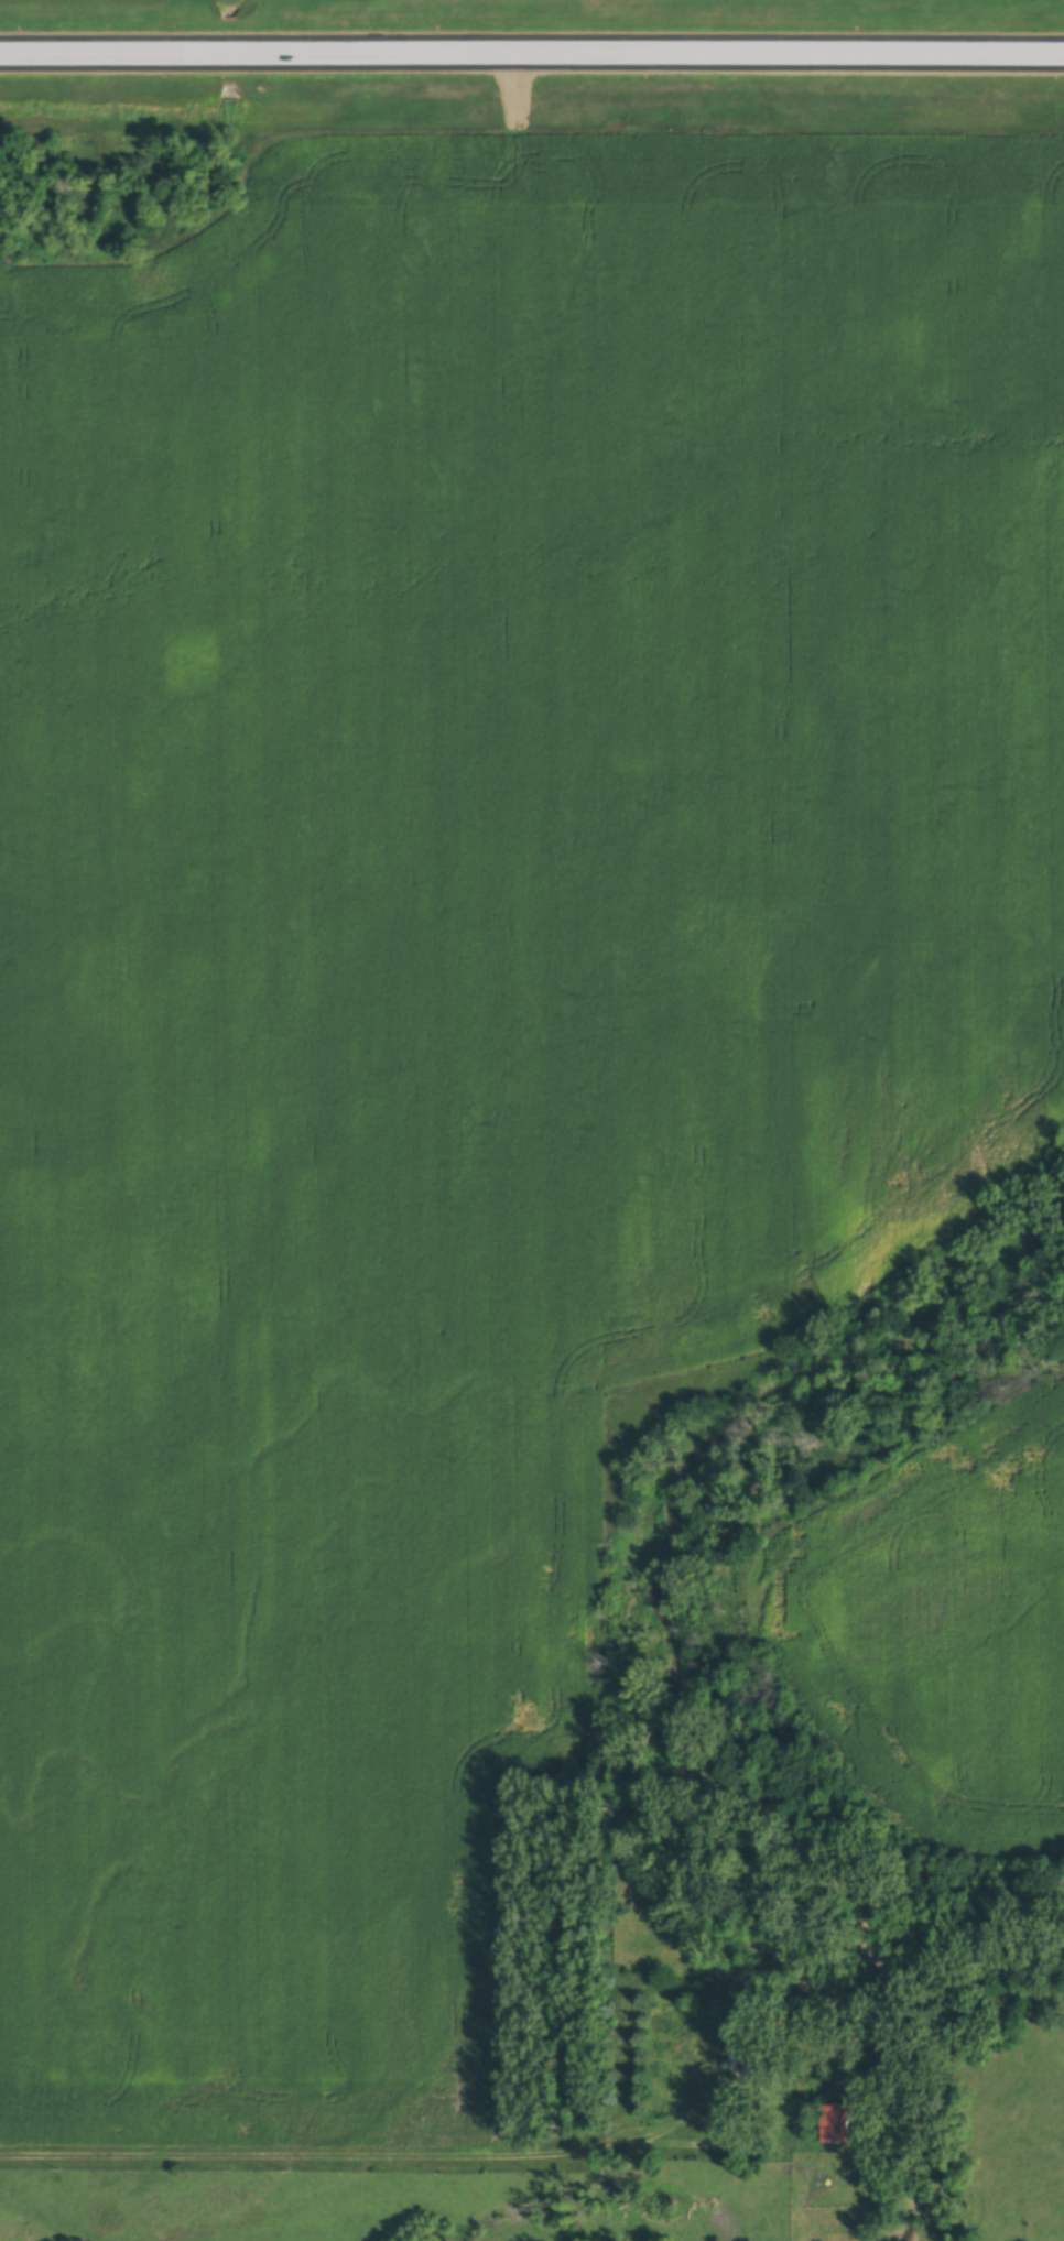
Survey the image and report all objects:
road: (532, 47)
building: (717, 2056)
road: (675, 2119)
building: (832, 2123)
road: (316, 2152)

